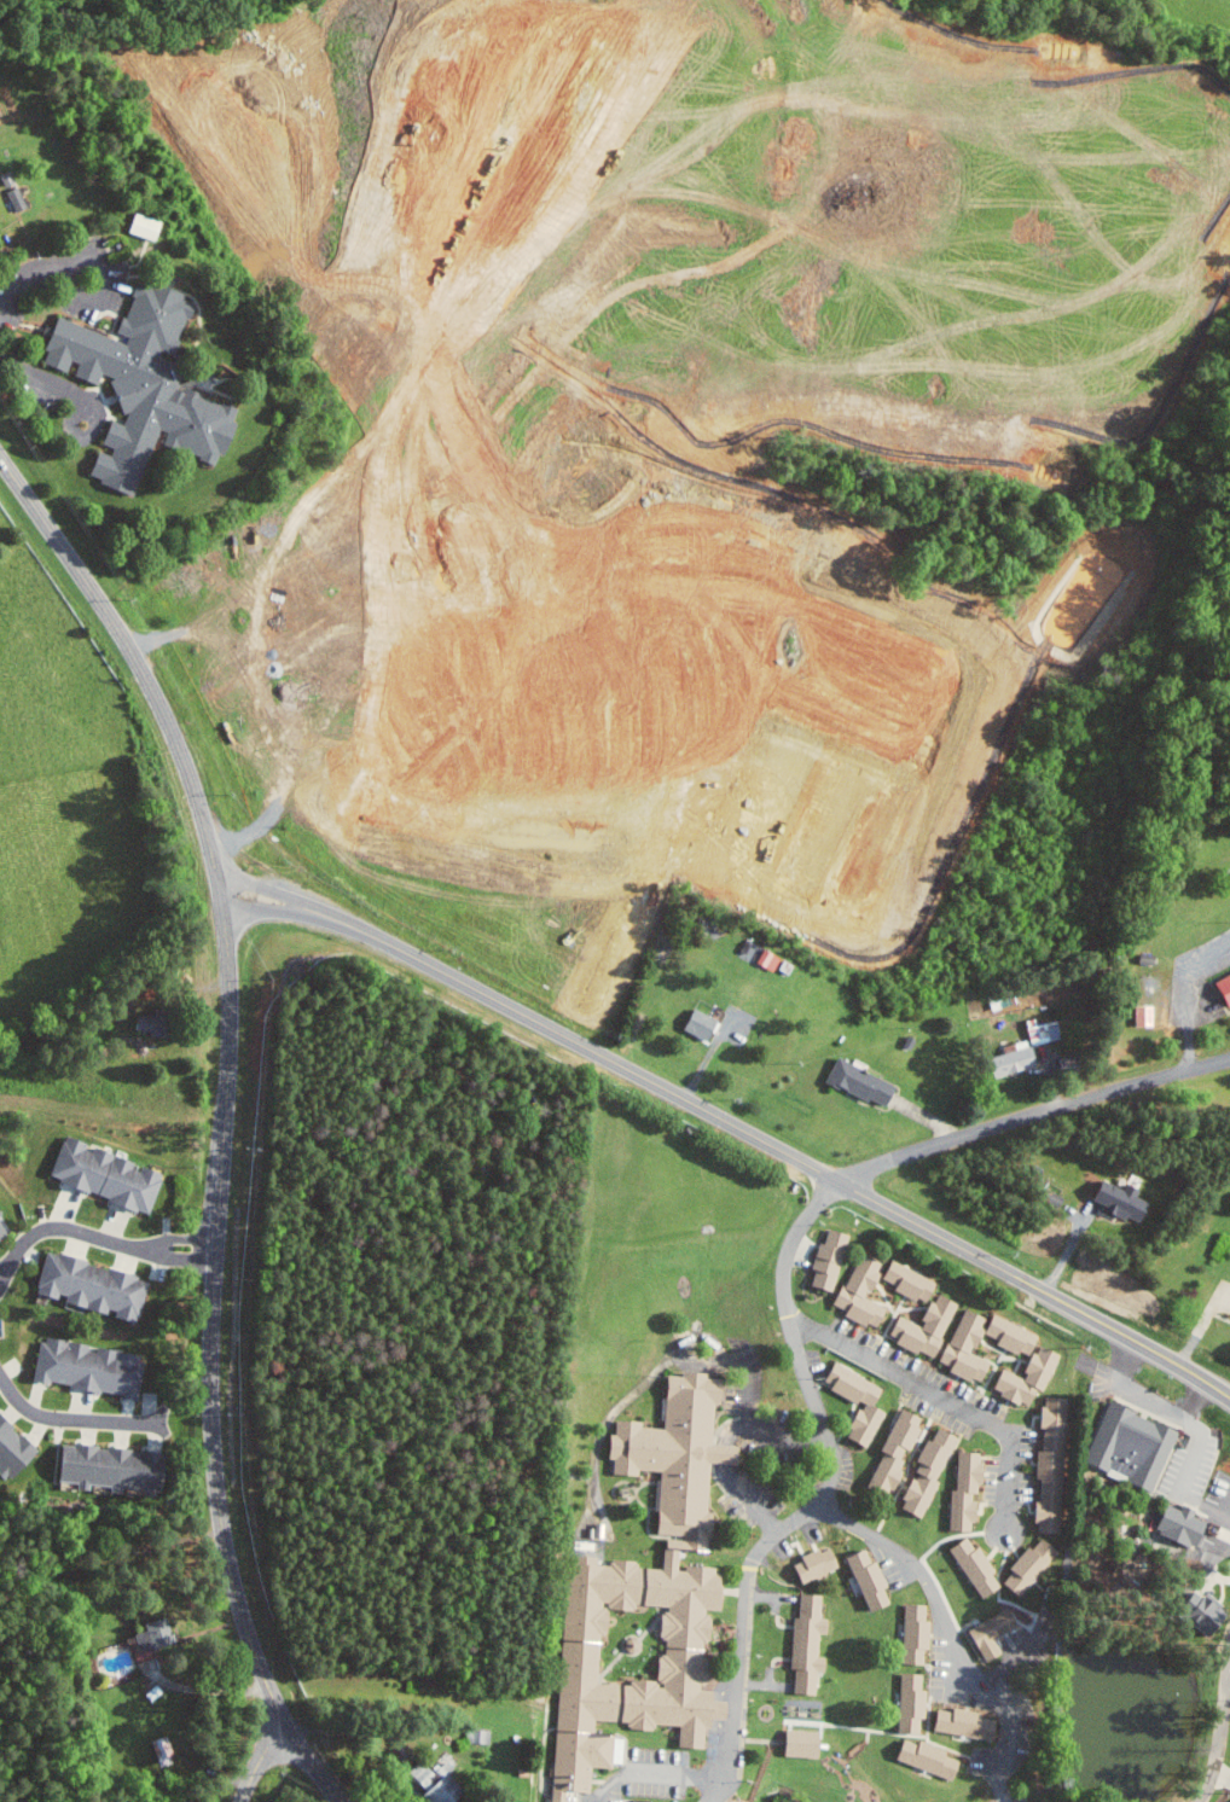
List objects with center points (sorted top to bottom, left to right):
building: (18, 198)
building: (145, 226)
road: (31, 279)
road: (105, 285)
road: (41, 378)
building: (147, 385)
road: (81, 435)
road: (63, 547)
road: (184, 761)
road: (277, 893)
road: (274, 909)
road: (228, 981)
building: (1220, 986)
building: (1139, 1015)
building: (695, 1023)
building: (1008, 1059)
building: (854, 1082)
road: (1031, 1114)
road: (784, 1152)
building: (105, 1176)
road: (220, 1186)
building: (1045, 1197)
building: (1115, 1201)
building: (2, 1233)
road: (95, 1237)
building: (825, 1260)
building: (906, 1281)
building: (97, 1286)
building: (859, 1292)
road: (1200, 1326)
building: (922, 1327)
building: (1006, 1335)
building: (963, 1347)
building: (94, 1367)
building: (1023, 1377)
road: (945, 1397)
road: (1195, 1401)
building: (866, 1408)
road: (70, 1418)
road: (1182, 1418)
road: (727, 1441)
building: (1126, 1447)
building: (16, 1449)
building: (890, 1453)
building: (1046, 1464)
building: (114, 1467)
building: (924, 1472)
building: (961, 1492)
road: (823, 1499)
building: (1174, 1524)
road: (228, 1564)
building: (812, 1564)
building: (1026, 1566)
building: (971, 1568)
building: (864, 1580)
building: (642, 1602)
building: (1195, 1611)
road: (953, 1629)
building: (911, 1633)
building: (987, 1633)
building: (152, 1635)
building: (803, 1643)
road: (207, 1691)
building: (153, 1692)
building: (907, 1702)
building: (961, 1723)
road: (1219, 1732)
building: (796, 1743)
building: (166, 1751)
building: (921, 1757)
road: (260, 1760)
road: (658, 1772)
building: (419, 1775)
building: (439, 1783)

